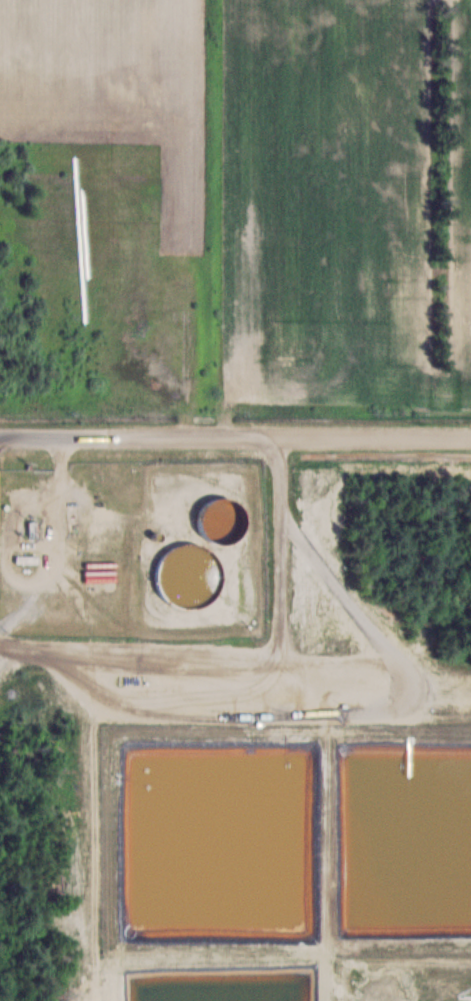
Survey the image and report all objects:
road: (235, 438)
building: (219, 516)

